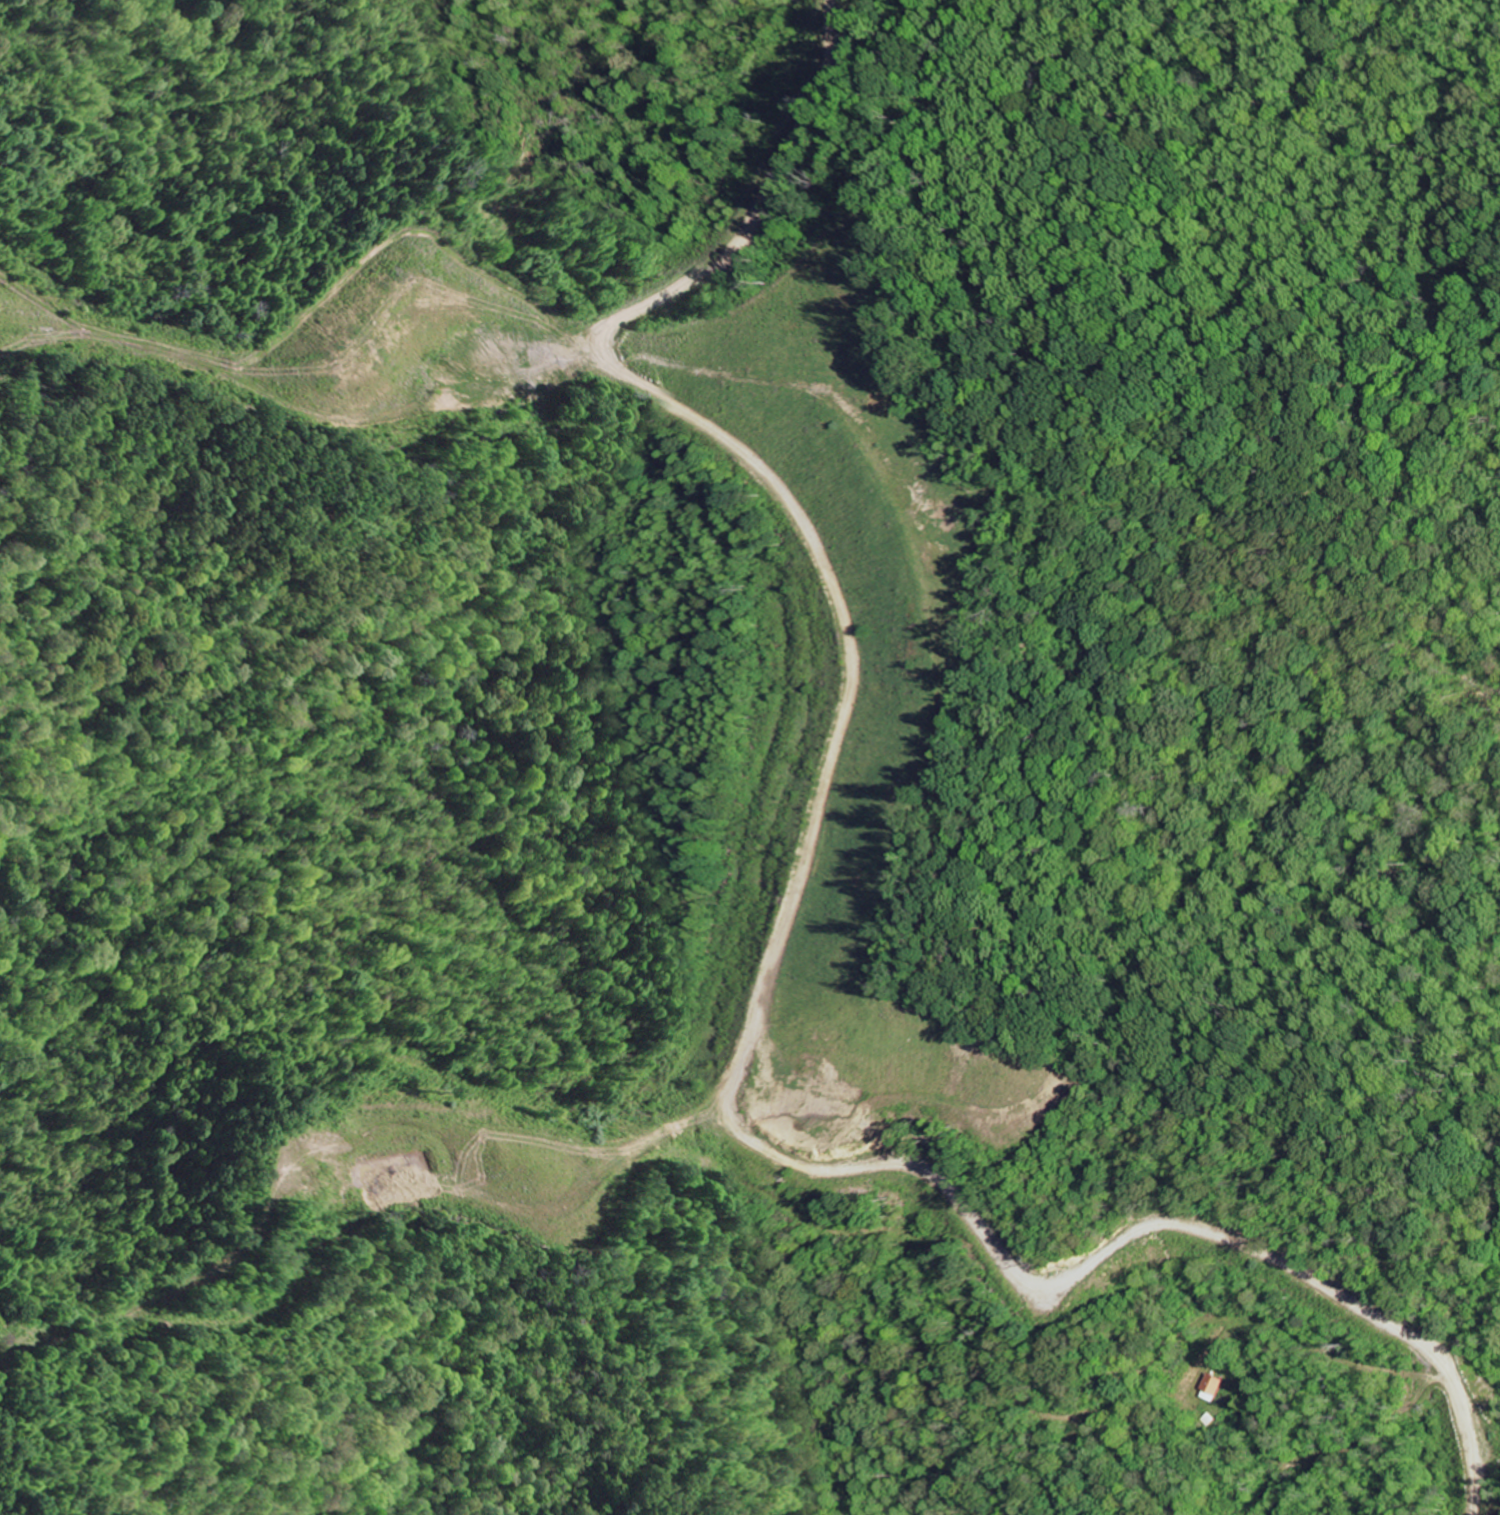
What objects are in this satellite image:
building: (1208, 1389)

